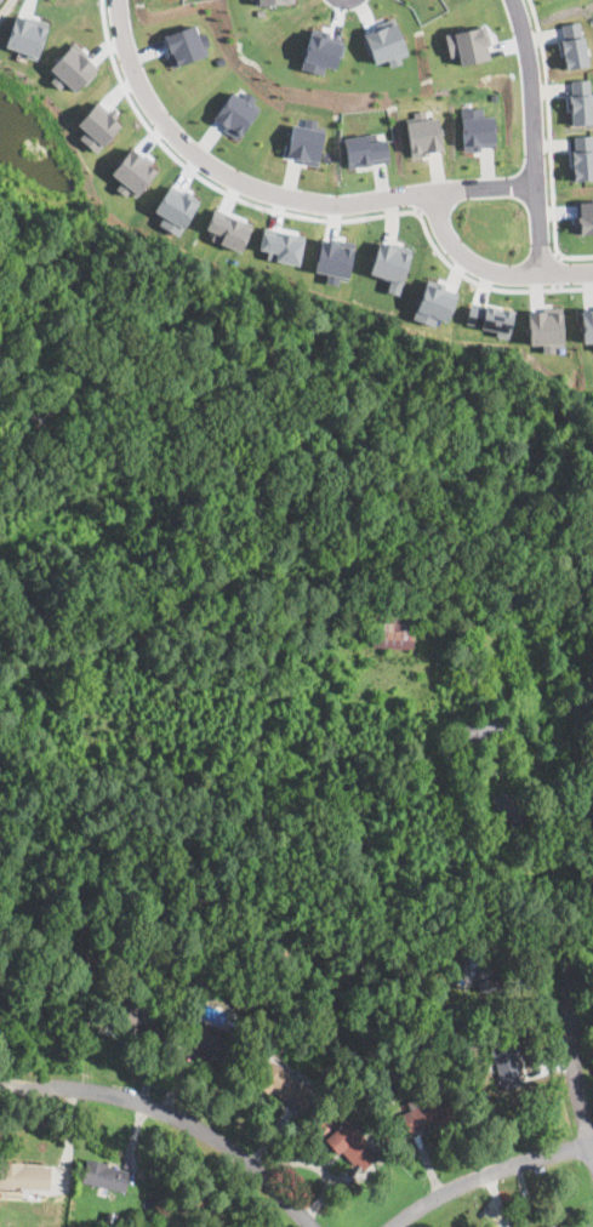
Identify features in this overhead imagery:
building: (270, 1)
building: (24, 35)
building: (384, 41)
building: (467, 42)
building: (572, 42)
building: (184, 44)
building: (319, 50)
building: (72, 67)
building: (581, 101)
building: (234, 113)
road: (549, 125)
building: (96, 126)
building: (478, 131)
building: (423, 135)
road: (532, 135)
building: (303, 143)
building: (364, 149)
building: (582, 155)
building: (132, 172)
road: (272, 192)
building: (173, 210)
building: (583, 215)
building: (228, 228)
building: (281, 245)
road: (574, 256)
building: (332, 258)
road: (445, 259)
building: (389, 263)
road: (490, 269)
road: (555, 270)
building: (433, 302)
building: (490, 316)
building: (586, 323)
building: (544, 326)
building: (393, 630)
building: (472, 652)
building: (570, 698)
building: (485, 726)
building: (474, 786)
building: (511, 806)
building: (569, 818)
building: (486, 968)
building: (417, 992)
building: (139, 1017)
building: (471, 1040)
road: (572, 1041)
building: (212, 1045)
building: (506, 1061)
building: (281, 1084)
building: (389, 1095)
road: (173, 1113)
building: (335, 1113)
building: (428, 1114)
building: (349, 1145)
road: (67, 1146)
building: (103, 1175)
building: (23, 1176)
road: (492, 1176)
building: (181, 1204)
building: (110, 1219)
building: (553, 1226)
building: (554, 1226)

